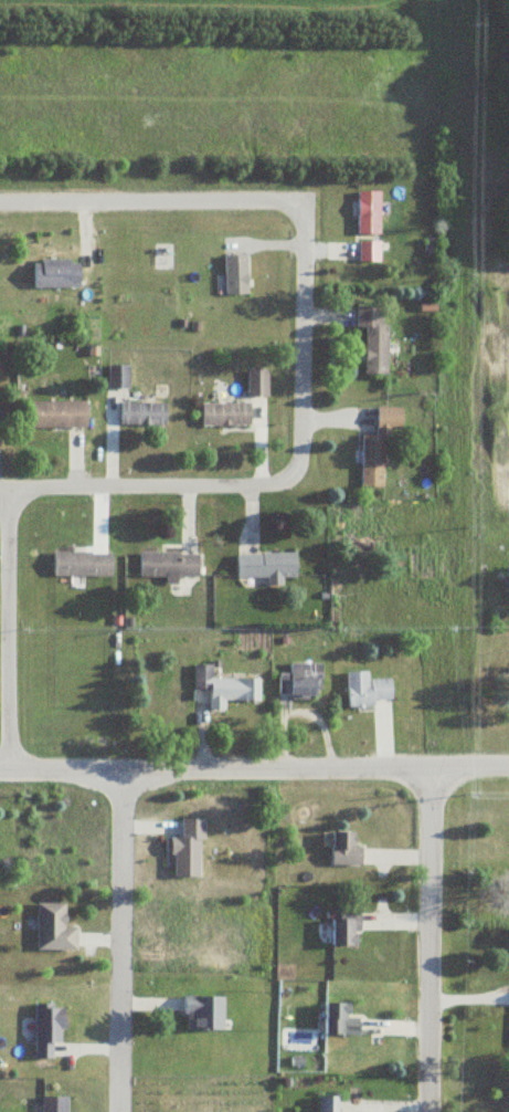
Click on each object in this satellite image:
road: (150, 200)
building: (365, 212)
building: (365, 252)
building: (53, 273)
building: (233, 275)
building: (371, 338)
road: (301, 345)
building: (115, 377)
building: (254, 384)
building: (140, 413)
building: (55, 415)
building: (223, 415)
building: (375, 448)
road: (2, 489)
road: (149, 489)
building: (79, 565)
building: (166, 565)
building: (264, 567)
road: (6, 628)
building: (298, 680)
building: (222, 685)
building: (364, 690)
building: (503, 690)
road: (254, 764)
building: (342, 849)
building: (181, 857)
building: (51, 927)
building: (342, 929)
road: (432, 936)
road: (120, 938)
building: (201, 1013)
building: (337, 1019)
building: (45, 1029)
building: (51, 1103)
building: (327, 1103)

